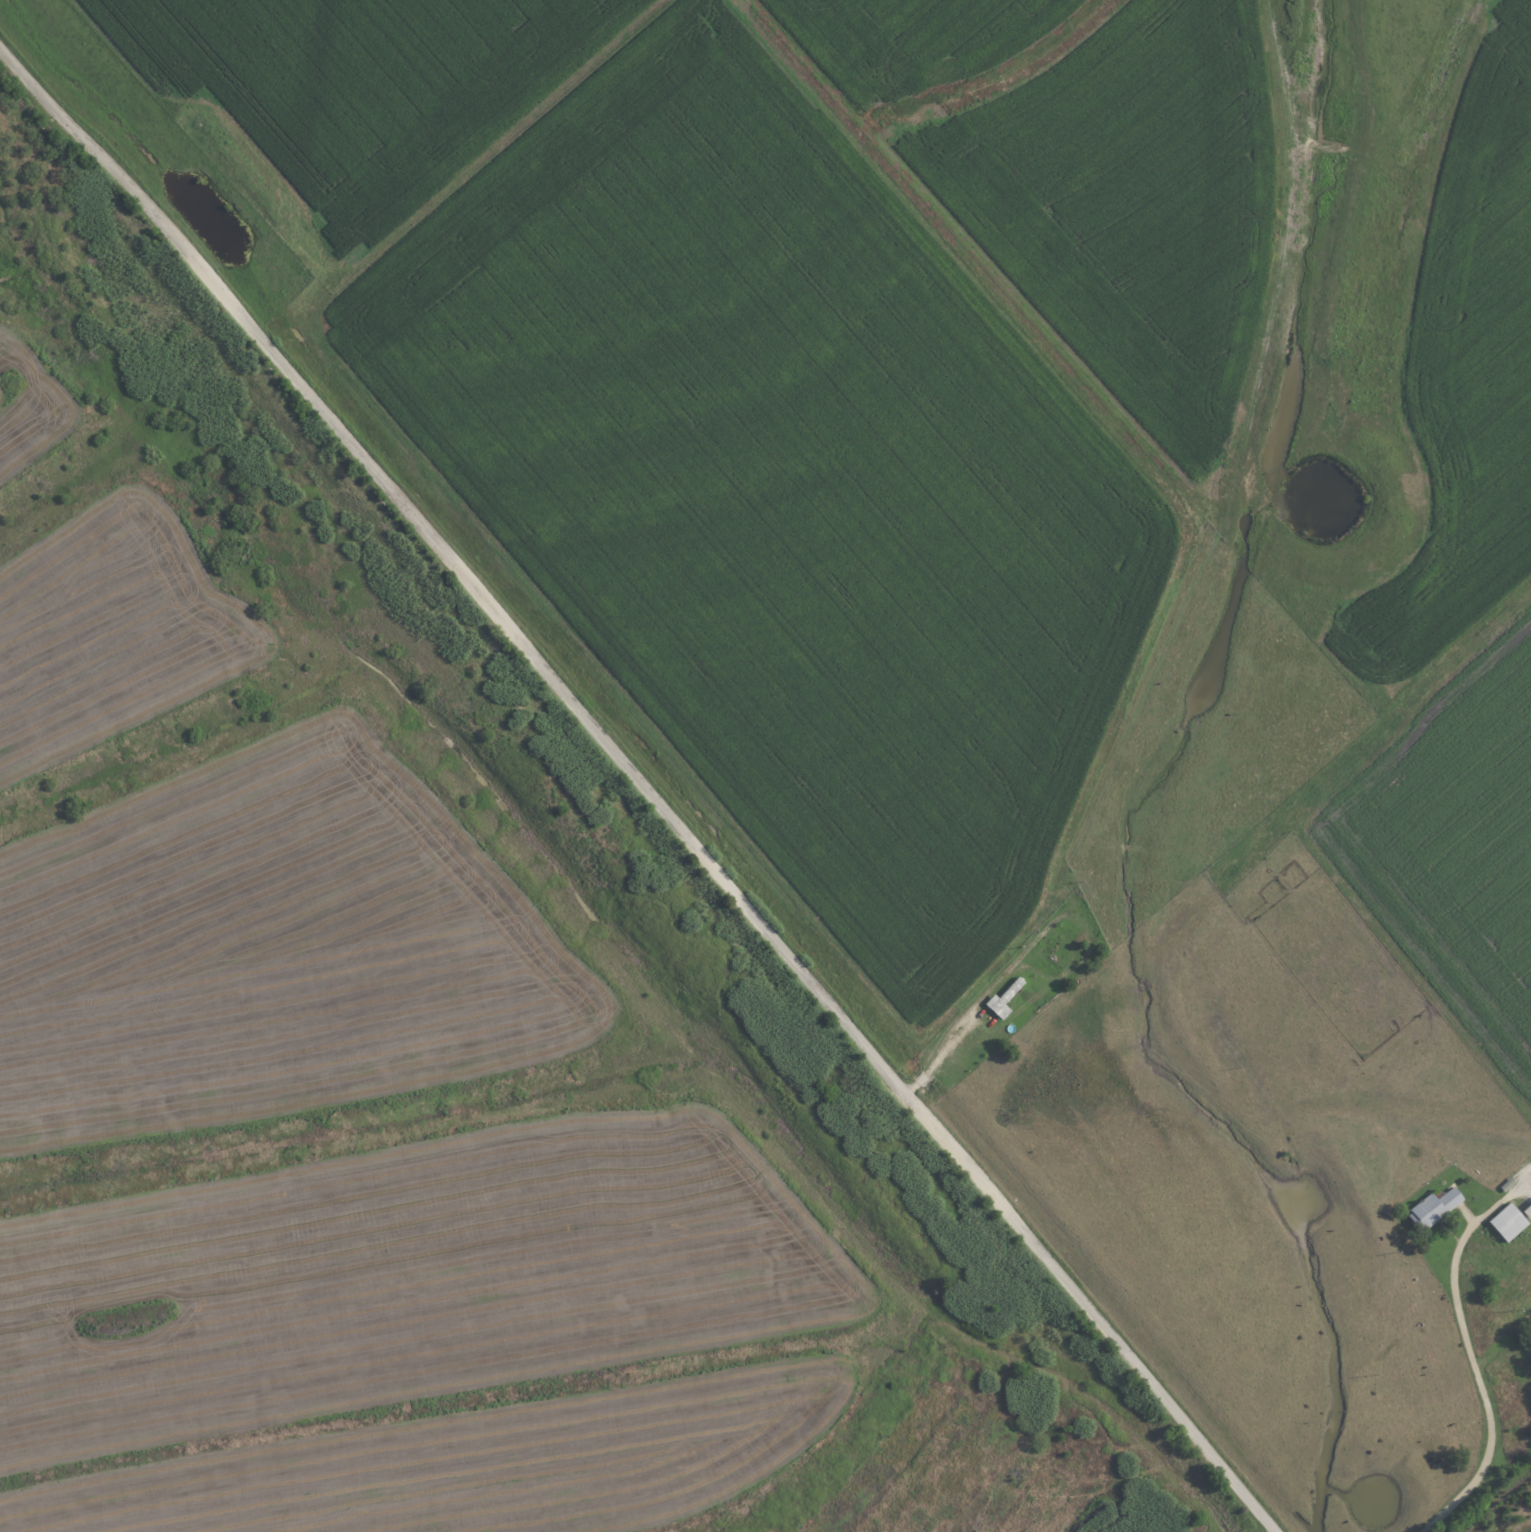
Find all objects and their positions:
road: (642, 787)
road: (955, 1031)
building: (1428, 1208)
building: (1502, 1222)
road: (1480, 1381)

